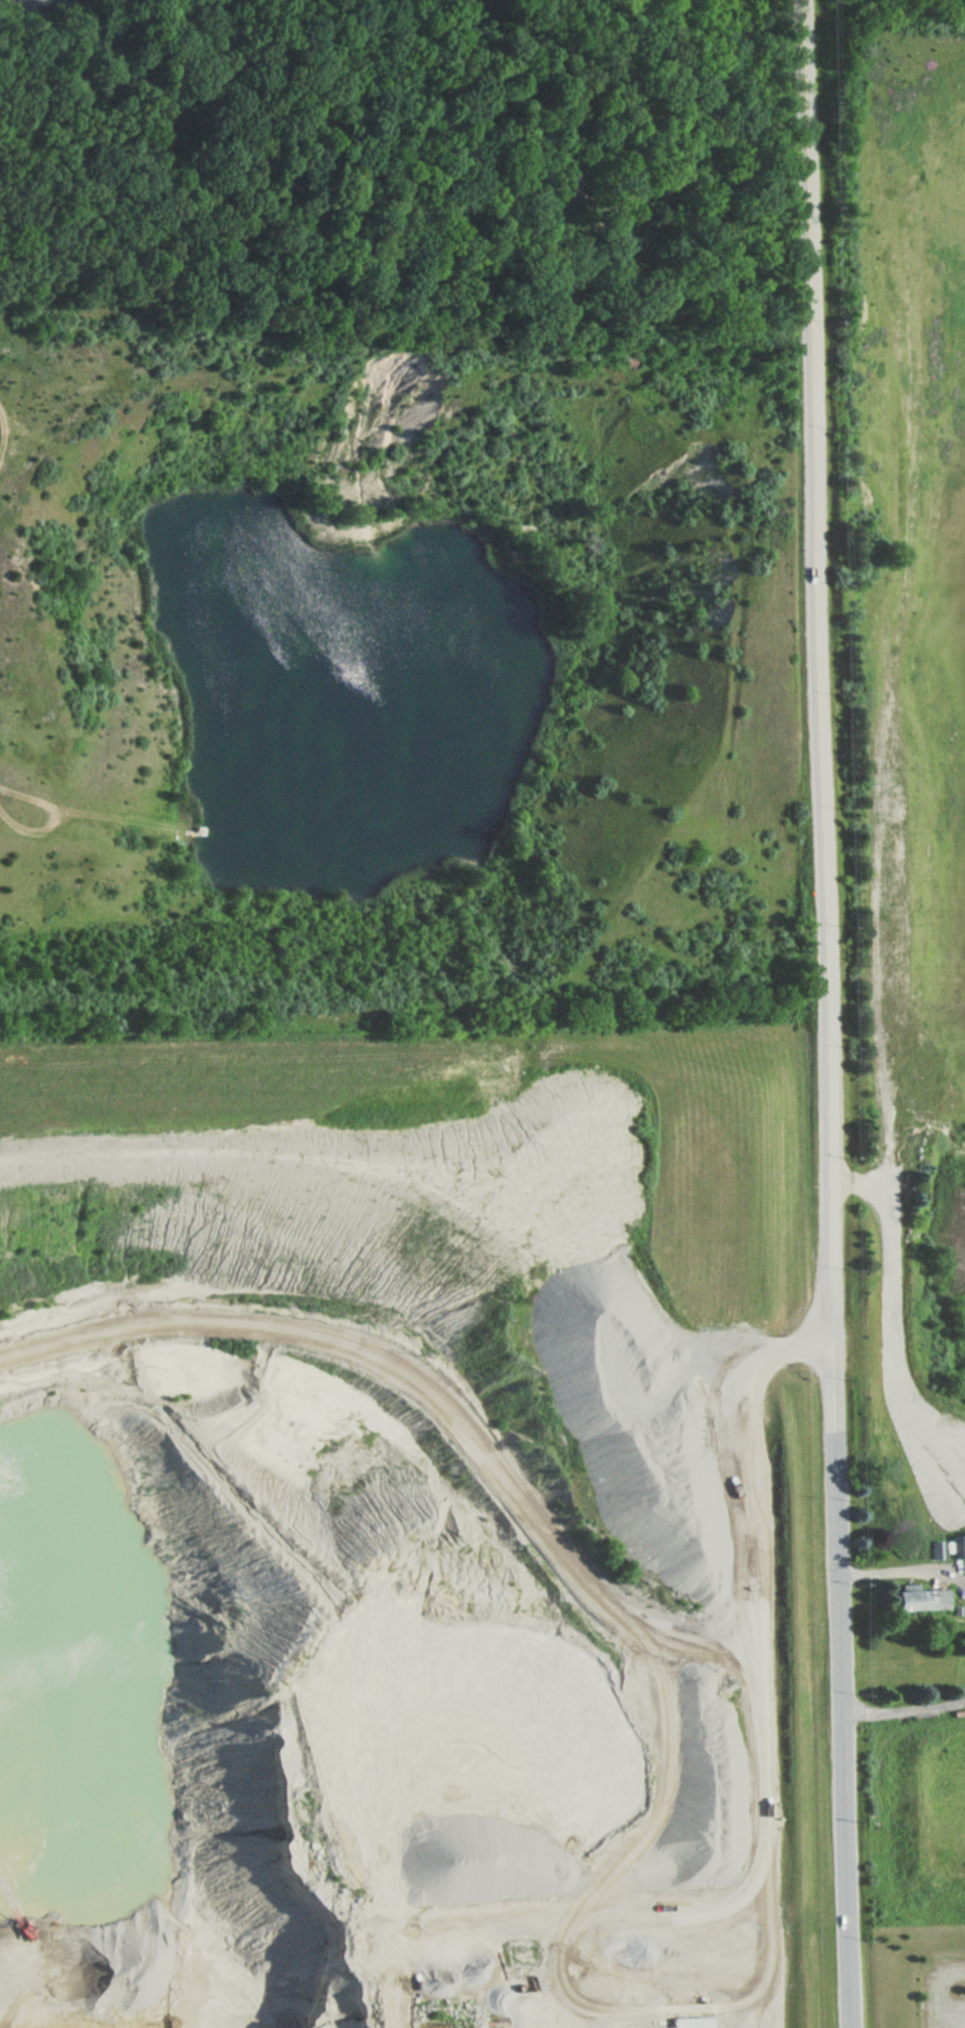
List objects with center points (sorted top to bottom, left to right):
road: (501, 4)
road: (728, 133)
building: (573, 184)
road: (641, 240)
road: (7, 436)
quarry: (360, 672)
road: (103, 816)
road: (34, 826)
road: (225, 835)
quarry: (912, 951)
road: (826, 1013)
road: (778, 1353)
road: (730, 1502)
quarry: (372, 1552)
road: (902, 1573)
building: (923, 1600)
road: (693, 1622)
road: (646, 1624)
road: (718, 1656)
road: (904, 1714)
road: (767, 1724)
road: (688, 1909)

